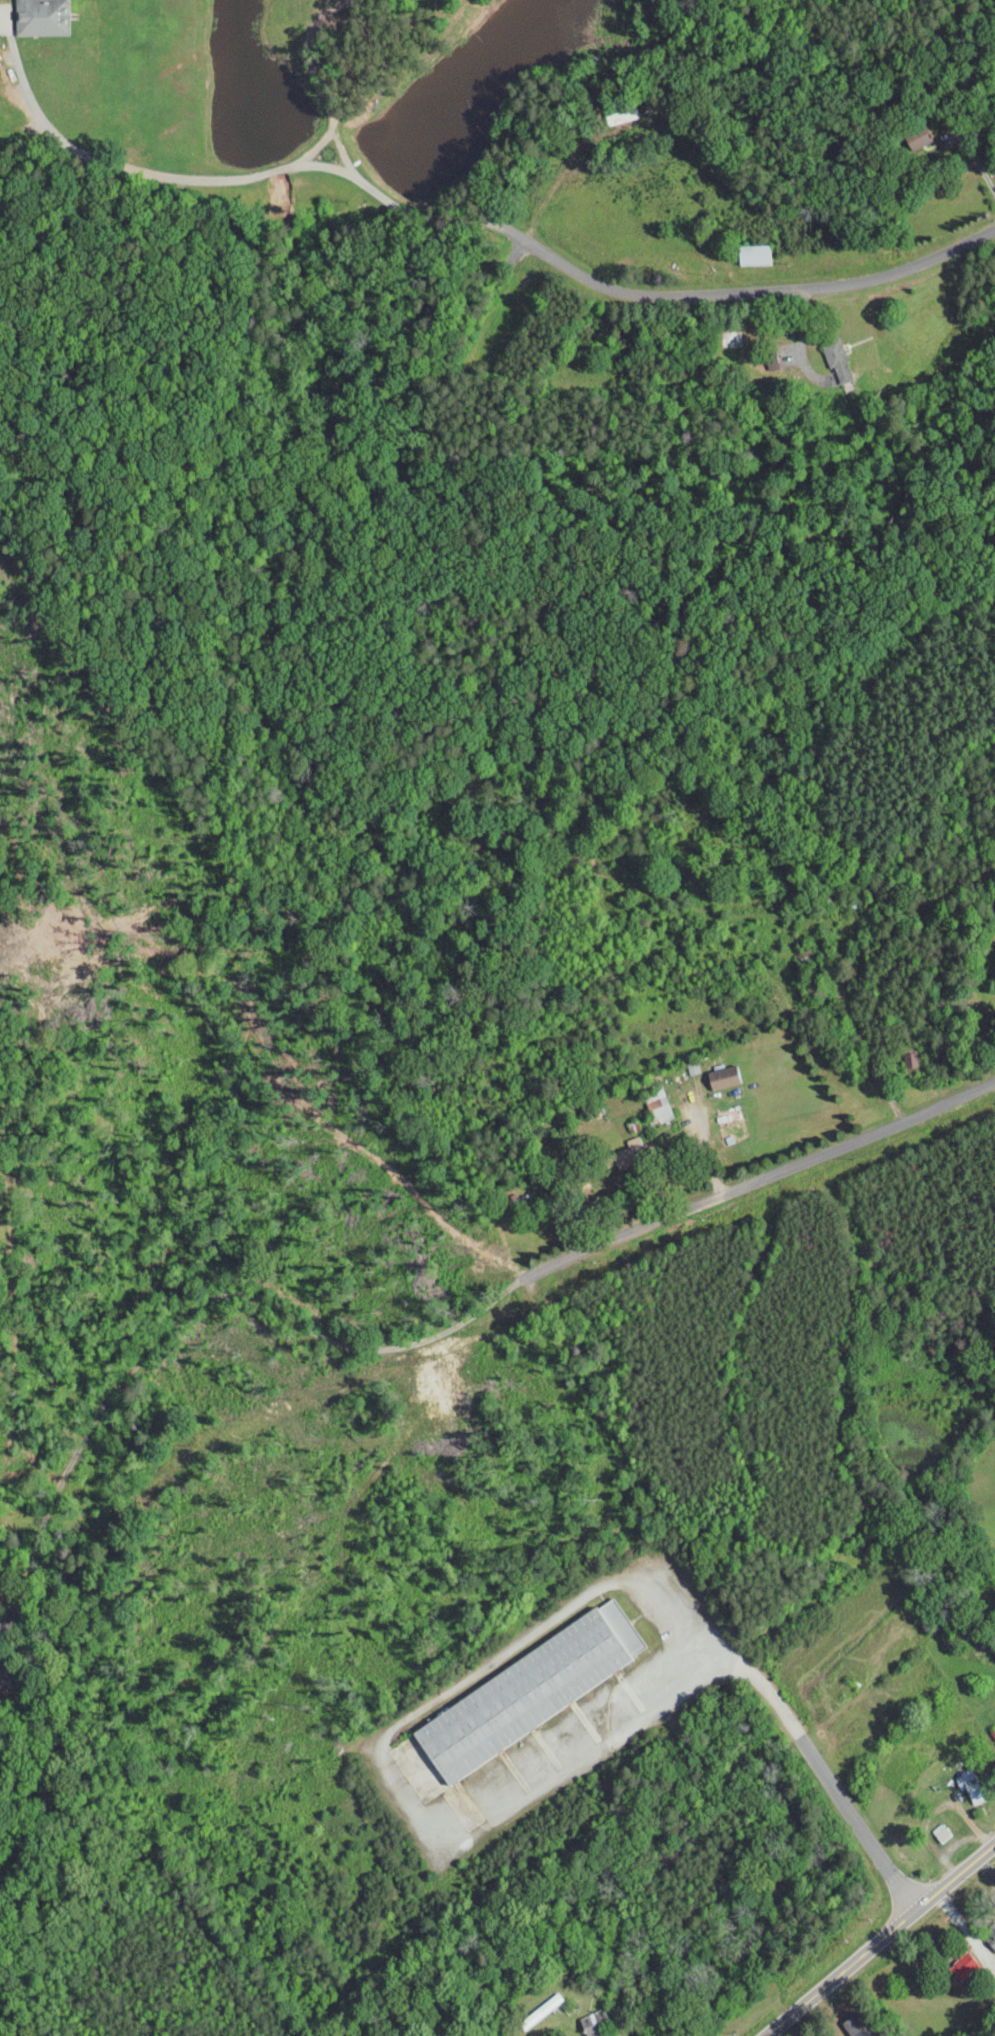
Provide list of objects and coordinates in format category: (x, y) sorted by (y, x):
road: (991, 2)
building: (29, 14)
building: (608, 108)
building: (906, 129)
road: (978, 162)
road: (141, 173)
building: (742, 247)
road: (649, 296)
building: (824, 352)
building: (711, 1071)
building: (646, 1099)
building: (617, 1147)
road: (703, 1147)
road: (758, 1184)
road: (239, 1299)
road: (492, 1665)
building: (517, 1683)
building: (993, 1716)
road: (606, 1718)
building: (991, 1737)
building: (957, 1778)
road: (842, 1799)
road: (966, 1927)
building: (985, 1928)
road: (881, 1939)
building: (951, 1960)
building: (843, 2024)

